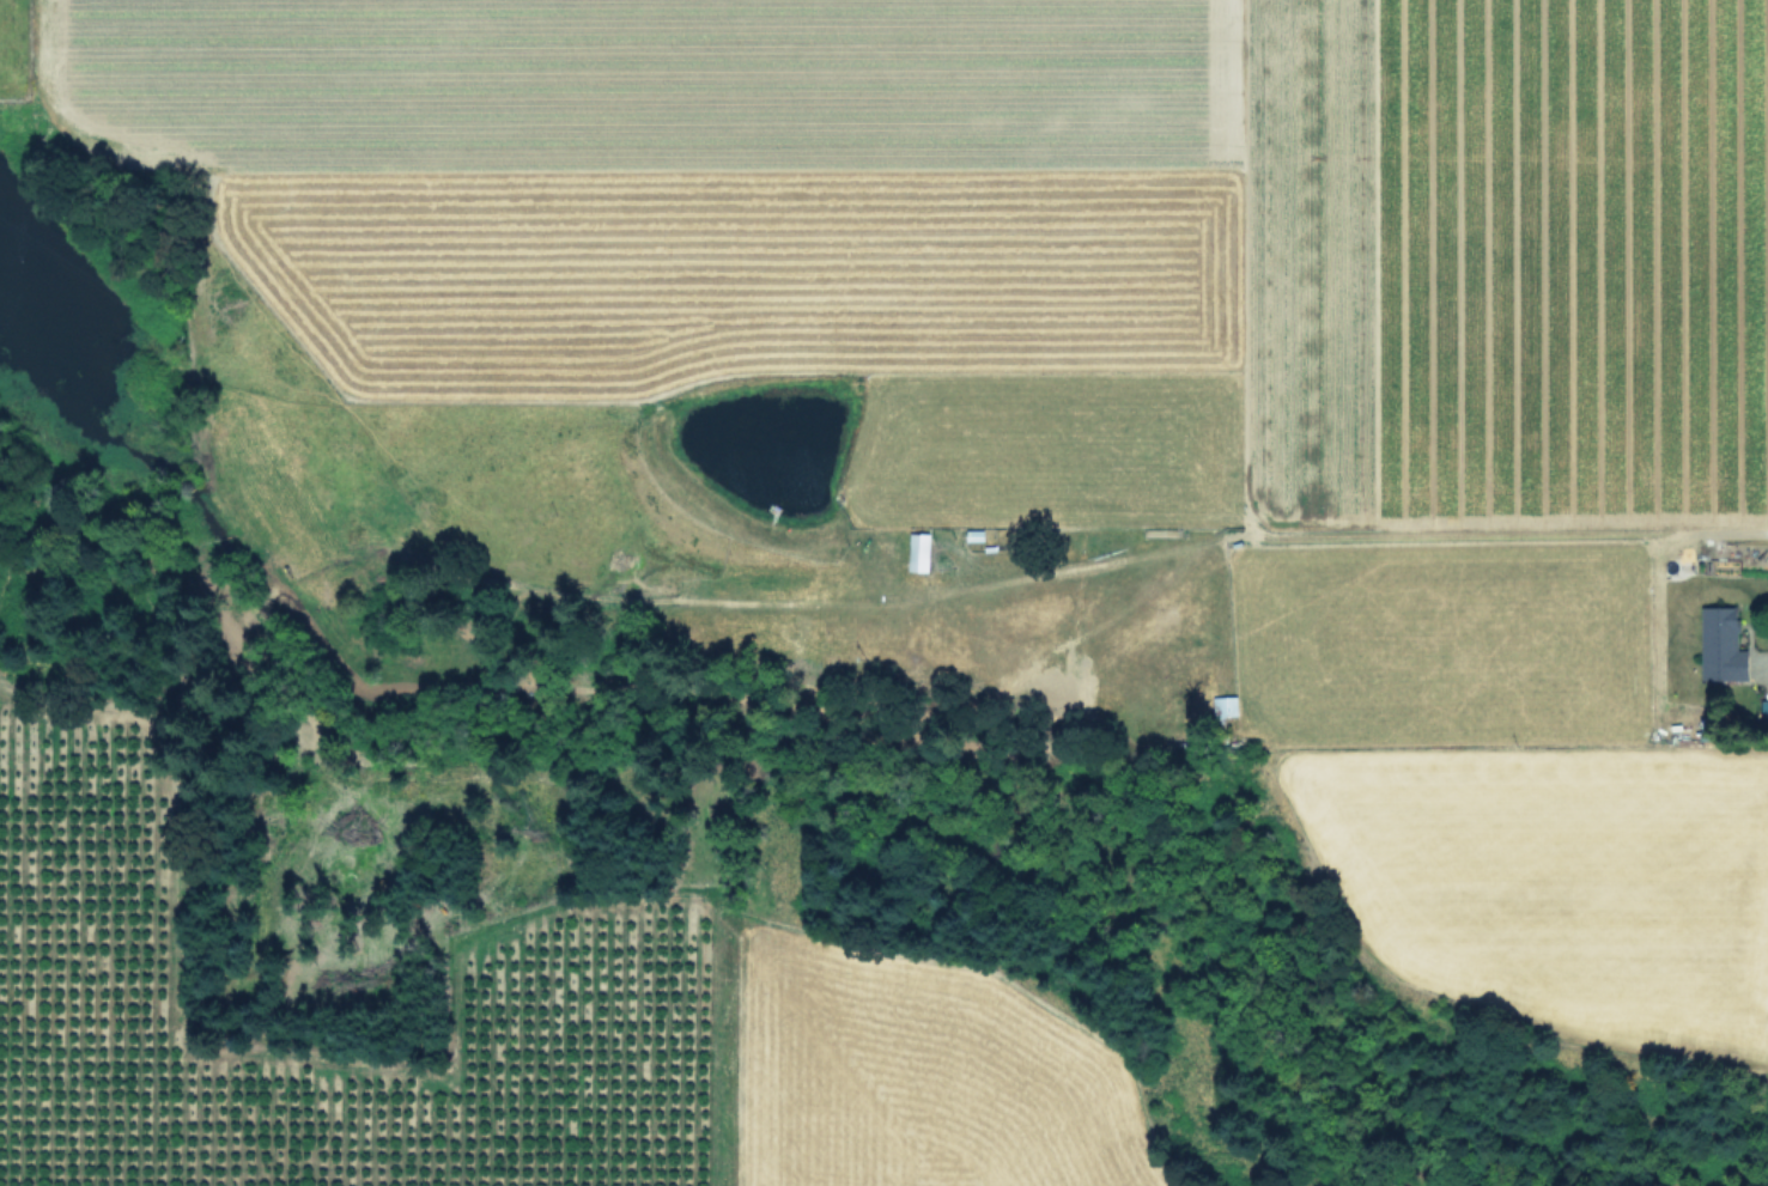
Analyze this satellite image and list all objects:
crop: (1083, 387)
building: (971, 534)
building: (916, 551)
building: (1719, 644)
building: (1223, 705)
building: (1762, 710)
crop: (895, 1072)

